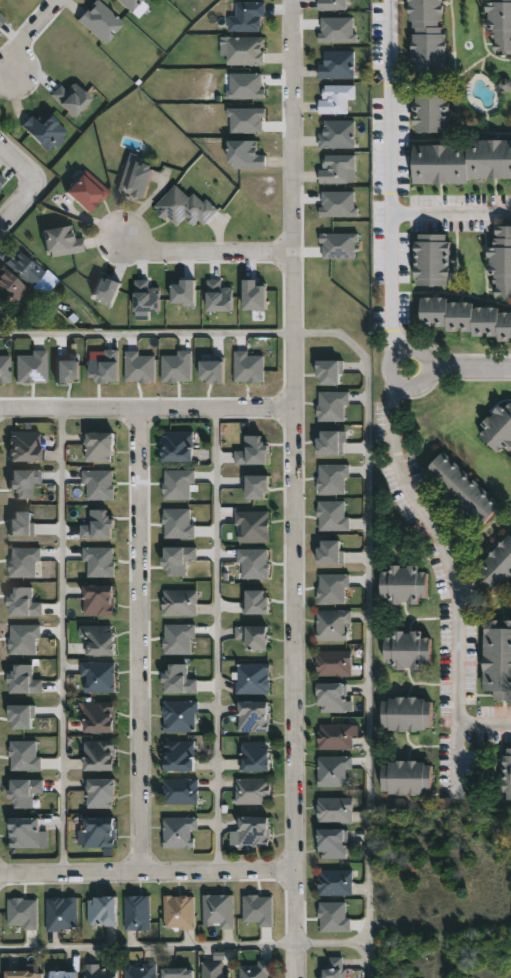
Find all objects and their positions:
building: (130, 4)
building: (333, 5)
building: (247, 17)
building: (0, 19)
building: (100, 22)
building: (500, 23)
building: (337, 30)
road: (26, 34)
building: (428, 37)
building: (247, 51)
building: (339, 65)
building: (245, 86)
building: (70, 99)
building: (337, 99)
building: (431, 112)
building: (246, 120)
building: (43, 131)
building: (338, 134)
building: (246, 155)
building: (461, 161)
building: (337, 168)
road: (390, 175)
building: (136, 179)
building: (2, 181)
road: (31, 192)
building: (86, 192)
building: (338, 204)
building: (185, 208)
road: (289, 209)
road: (450, 215)
building: (61, 242)
building: (339, 245)
road: (204, 249)
building: (435, 261)
building: (502, 261)
building: (25, 269)
building: (11, 285)
building: (106, 291)
building: (184, 293)
building: (218, 296)
building: (254, 296)
building: (145, 299)
building: (467, 319)
road: (143, 333)
building: (106, 367)
building: (139, 367)
building: (177, 367)
building: (248, 367)
road: (387, 367)
building: (31, 368)
building: (4, 369)
building: (67, 369)
road: (470, 369)
building: (212, 371)
building: (330, 372)
building: (332, 405)
building: (498, 427)
building: (330, 443)
building: (24, 445)
building: (100, 445)
building: (179, 446)
building: (253, 452)
building: (332, 478)
building: (24, 483)
building: (99, 484)
building: (178, 484)
building: (255, 486)
building: (464, 487)
building: (332, 516)
building: (21, 524)
building: (178, 524)
building: (98, 526)
building: (253, 526)
road: (293, 552)
building: (331, 553)
building: (178, 560)
building: (99, 561)
building: (23, 562)
building: (254, 563)
building: (499, 564)
building: (406, 583)
road: (459, 583)
building: (333, 588)
building: (99, 600)
building: (180, 602)
building: (256, 603)
building: (24, 604)
road: (367, 624)
building: (334, 625)
building: (254, 636)
building: (99, 638)
building: (23, 639)
building: (178, 639)
road: (215, 641)
road: (138, 642)
road: (60, 643)
building: (407, 649)
building: (498, 658)
building: (334, 663)
building: (98, 676)
building: (254, 678)
building: (179, 680)
building: (25, 681)
building: (333, 696)
building: (406, 713)
building: (180, 715)
building: (255, 715)
building: (100, 716)
building: (22, 717)
road: (489, 730)
building: (335, 736)
building: (101, 754)
building: (180, 755)
building: (256, 755)
building: (24, 756)
building: (335, 770)
building: (508, 772)
building: (405, 777)
building: (181, 790)
building: (253, 790)
building: (25, 791)
building: (101, 792)
building: (336, 809)
building: (25, 831)
building: (180, 831)
building: (253, 831)
building: (98, 832)
building: (334, 843)
road: (148, 876)
building: (336, 882)
building: (218, 909)
building: (103, 910)
building: (258, 910)
building: (180, 911)
building: (138, 912)
building: (23, 913)
building: (62, 913)
building: (334, 917)
road: (333, 942)
road: (149, 945)
building: (335, 967)
building: (216, 969)
building: (256, 970)
building: (103, 971)
building: (141, 971)
building: (180, 972)
building: (23, 973)
building: (64, 974)

